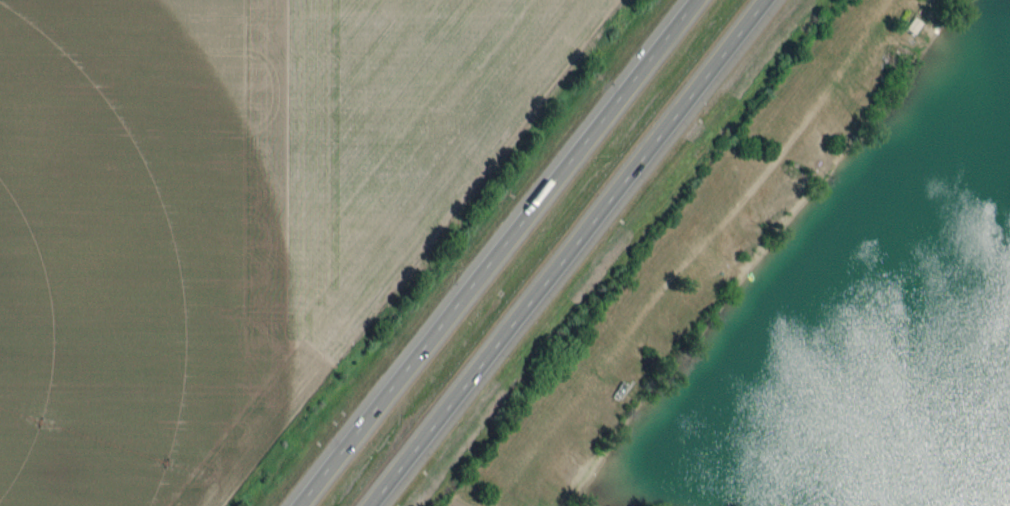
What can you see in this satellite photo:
road: (494, 253)
road: (564, 253)

